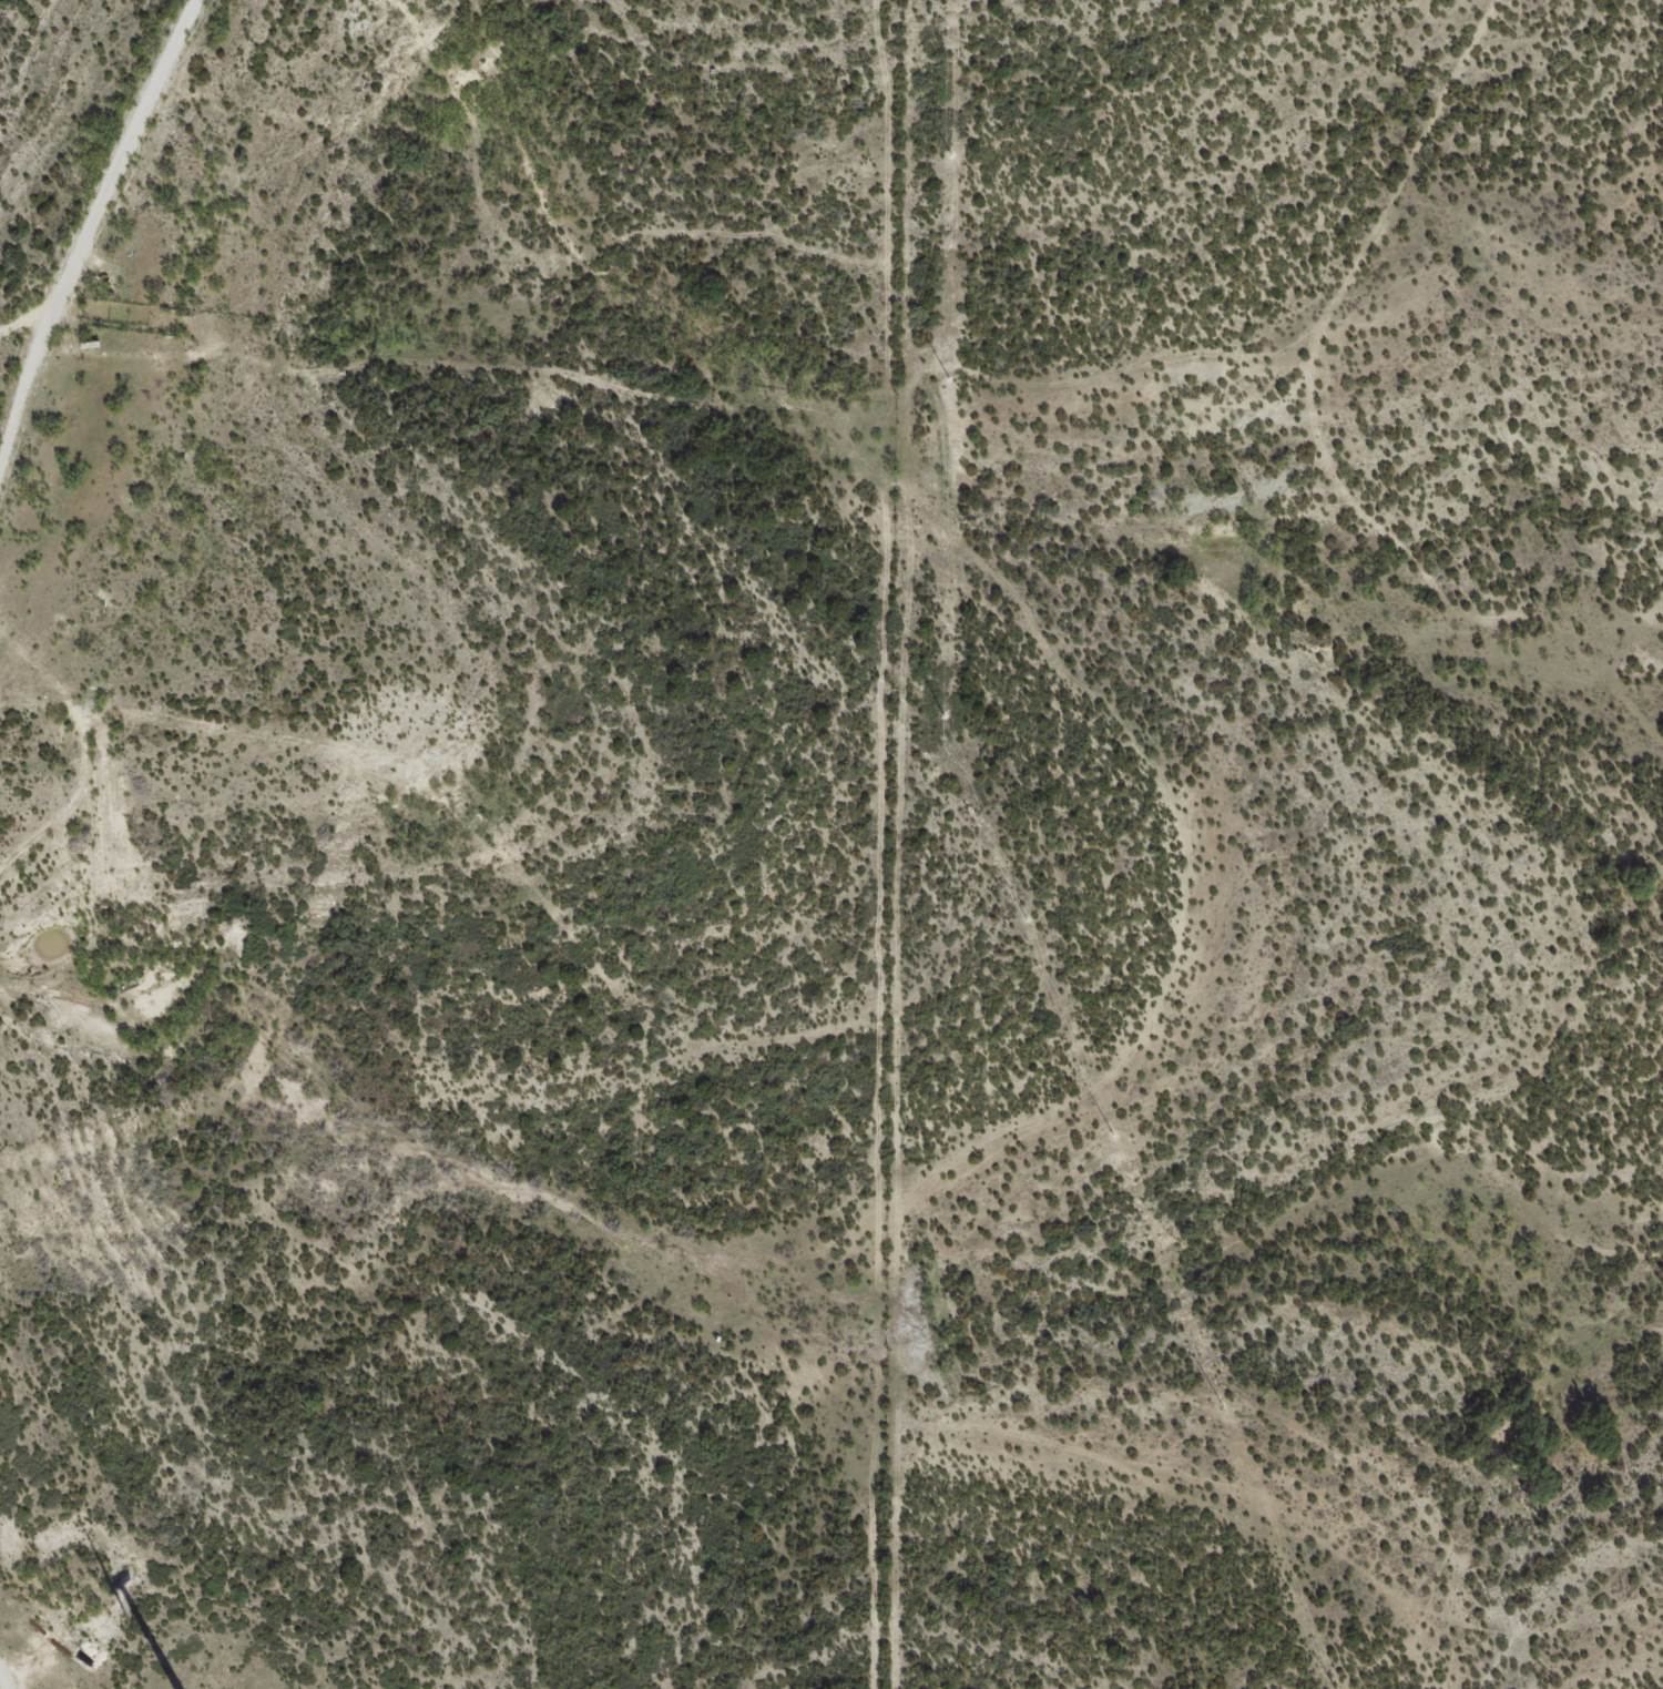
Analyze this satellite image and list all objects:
power tower: (949, 153)
road: (137, 202)
power tower: (946, 377)
power tower: (941, 715)
road: (231, 743)
power tower: (1024, 920)
power tower: (1111, 1136)
power tower: (1222, 1407)

